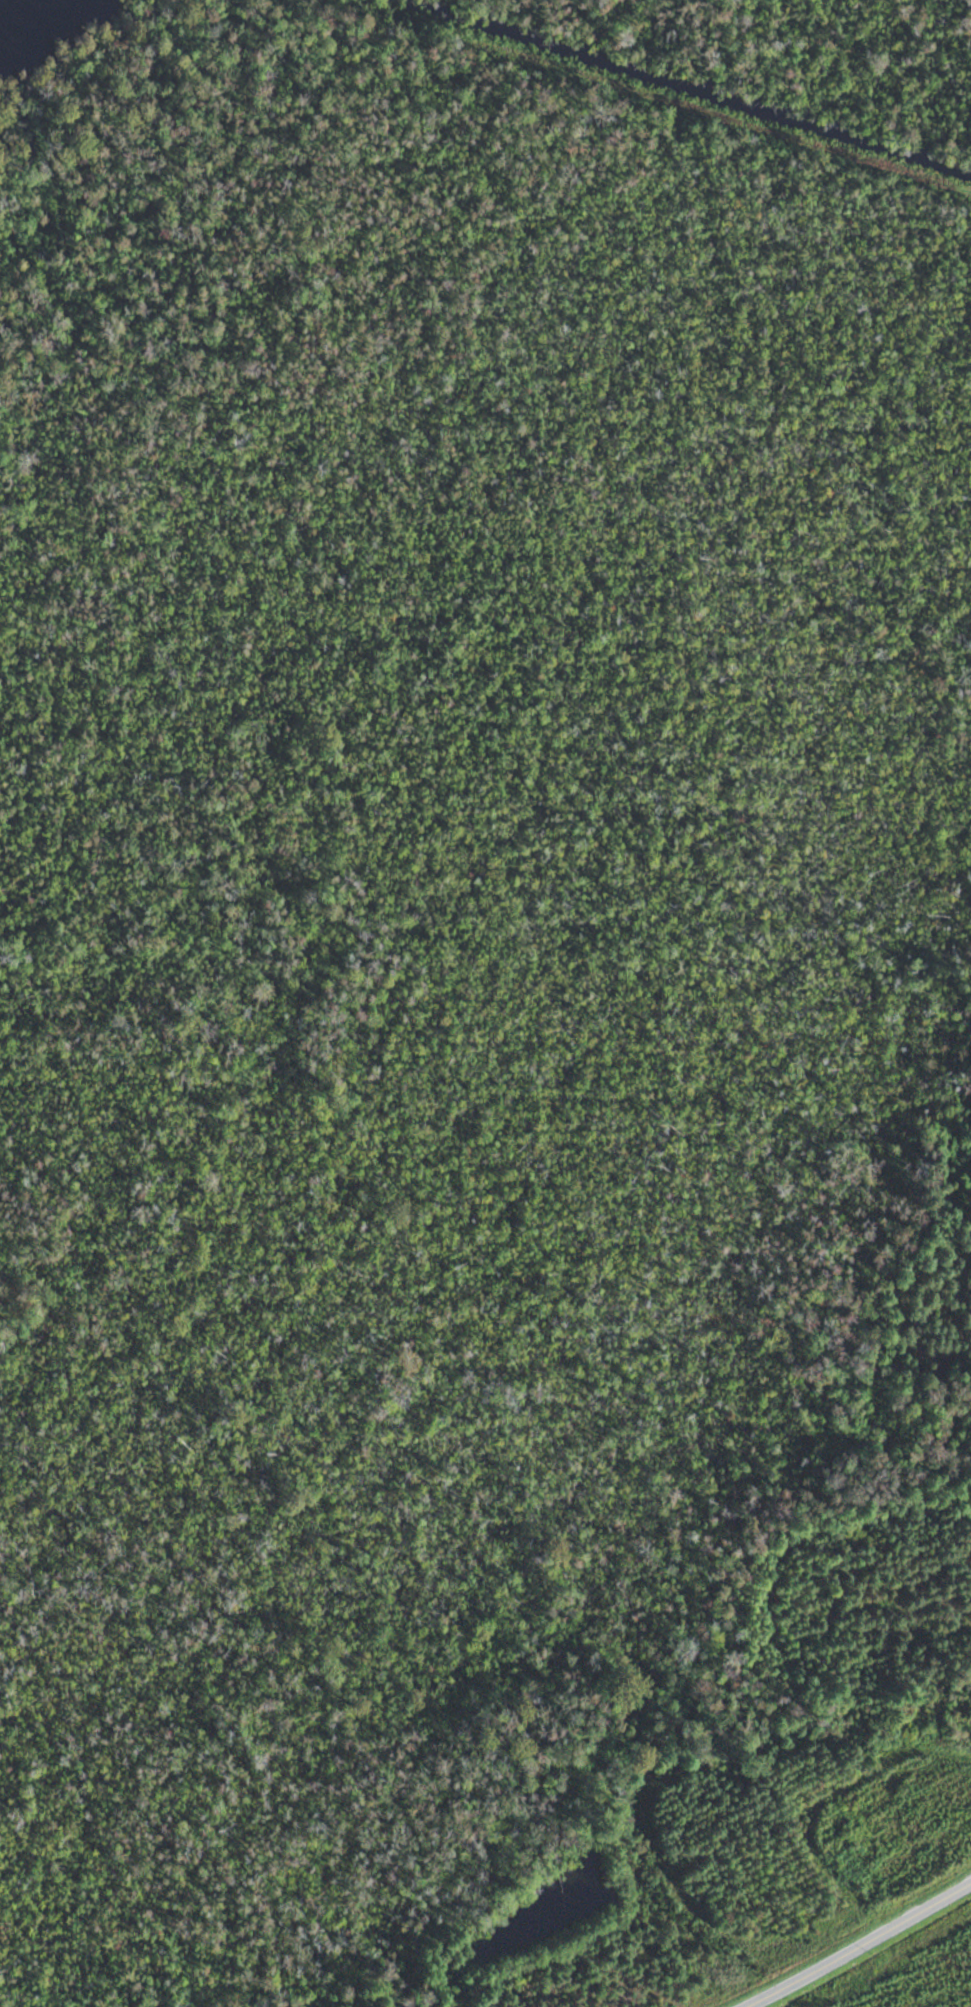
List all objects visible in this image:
road: (853, 1946)

